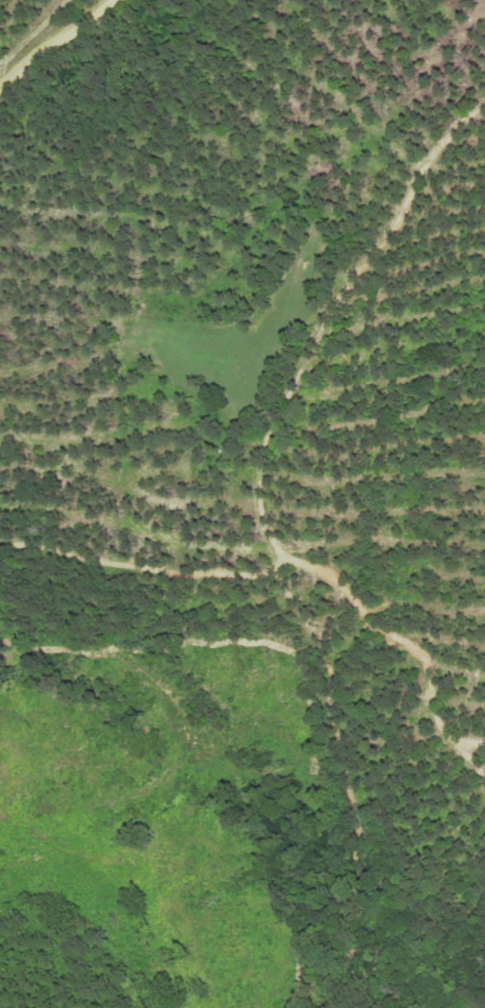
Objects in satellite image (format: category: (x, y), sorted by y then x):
road: (51, 37)

